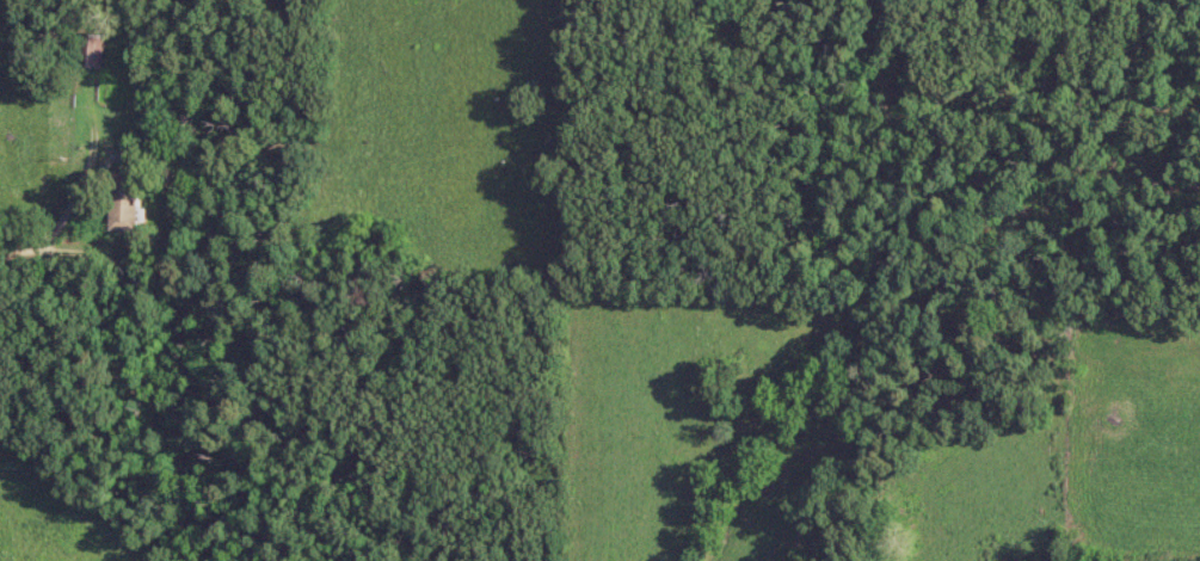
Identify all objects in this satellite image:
building: (128, 211)
road: (20, 246)

